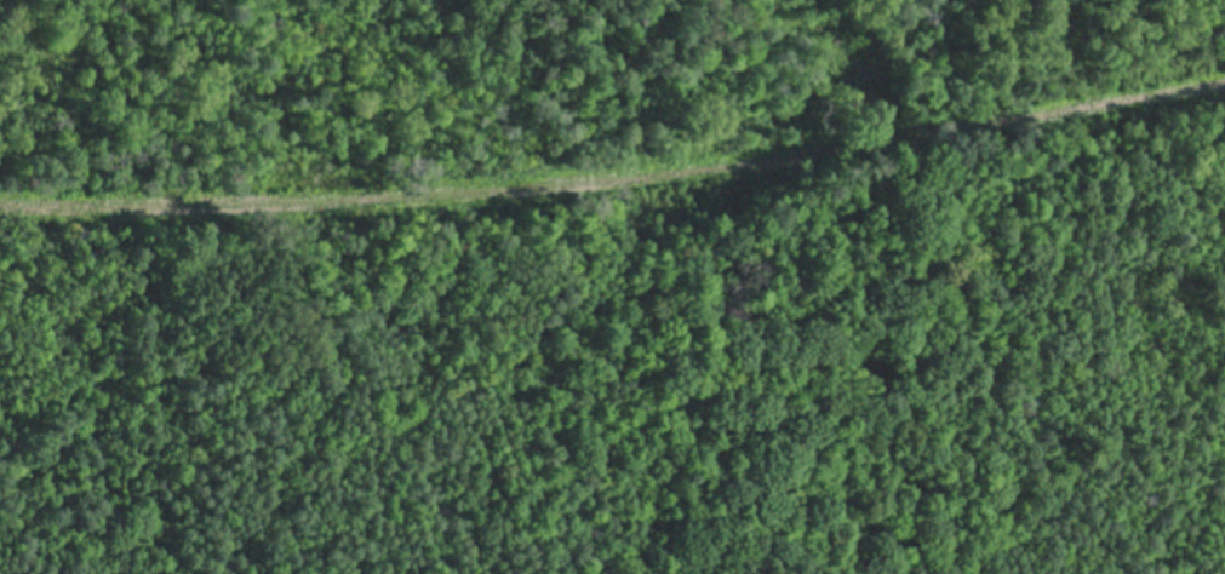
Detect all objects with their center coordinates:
railway: (616, 183)

